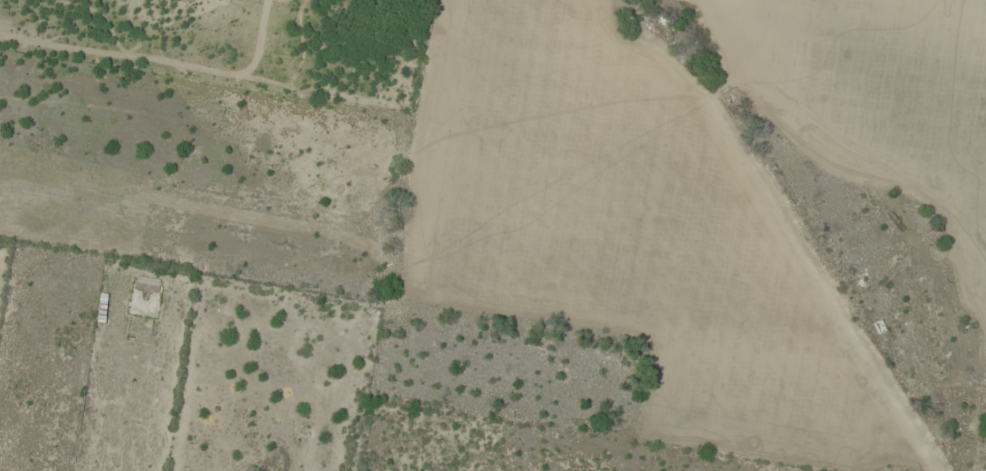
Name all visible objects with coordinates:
building: (146, 296)

